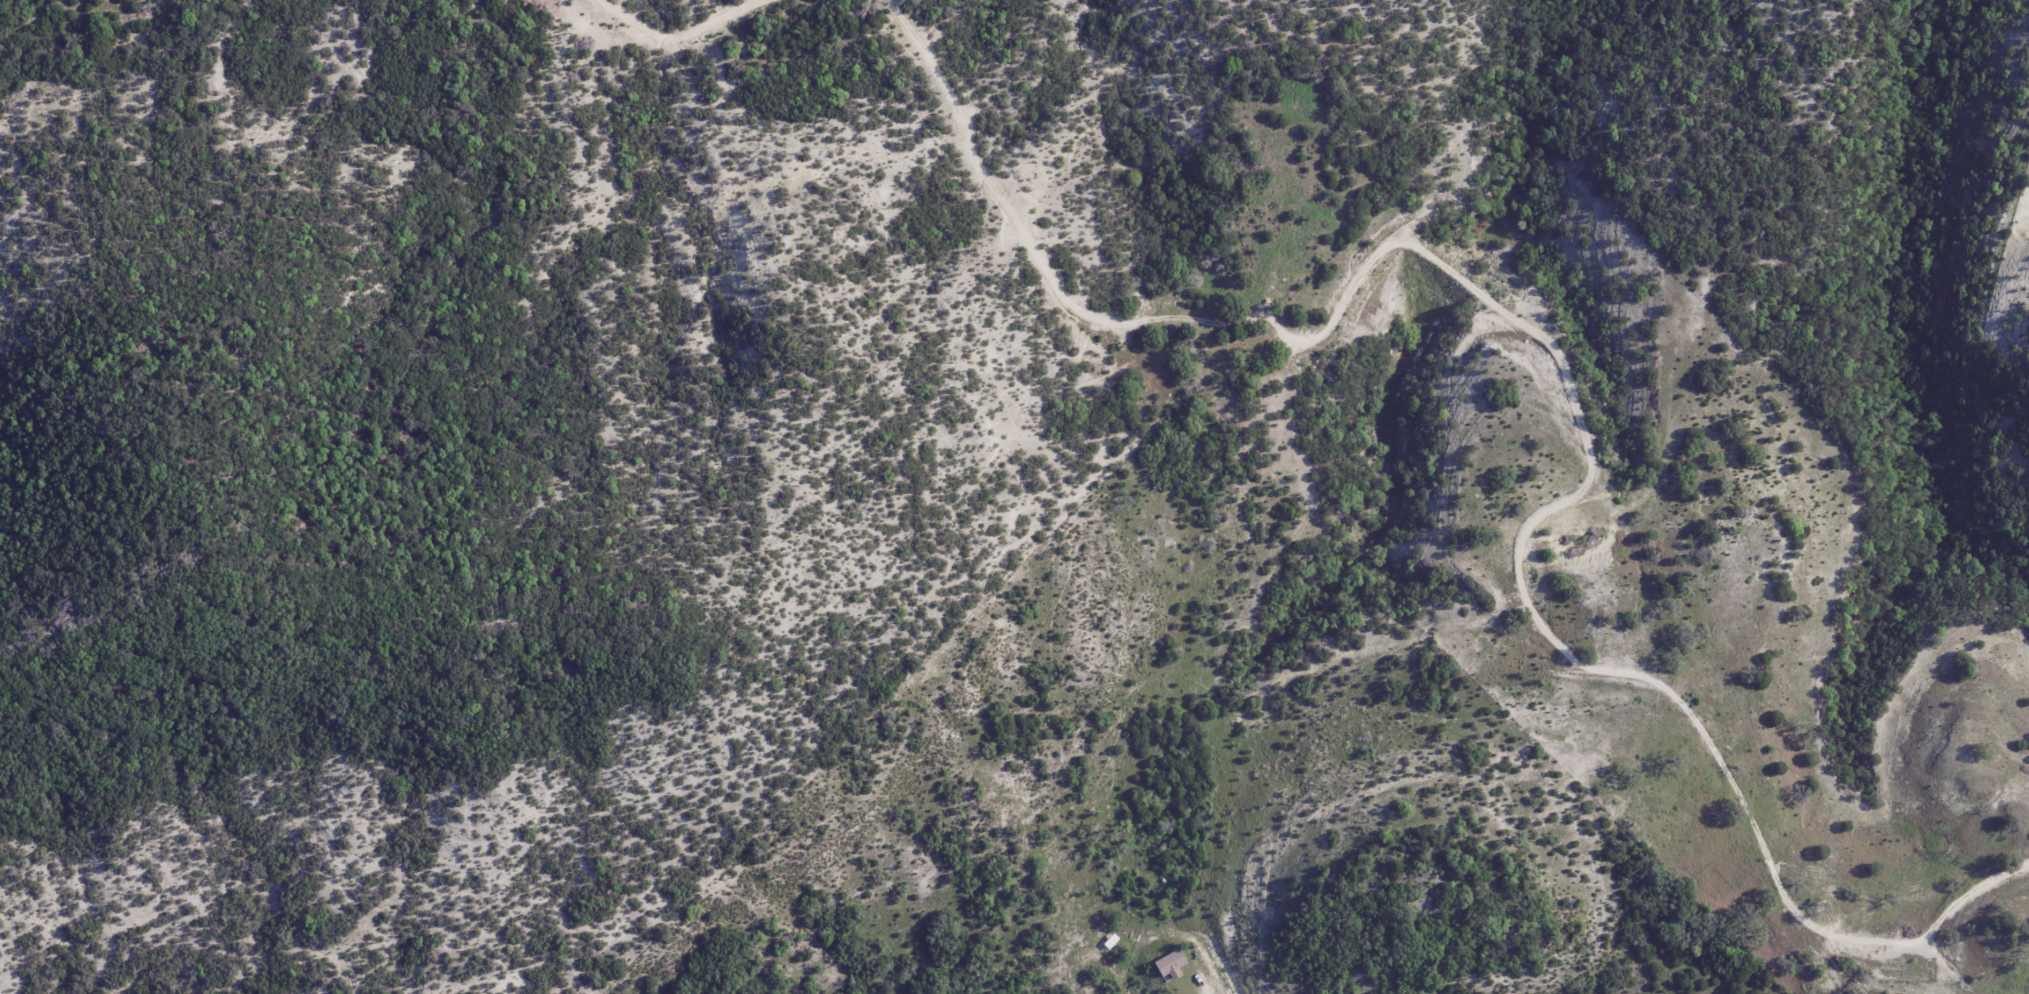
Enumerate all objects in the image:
road: (701, 31)
road: (1258, 625)
building: (1168, 966)

